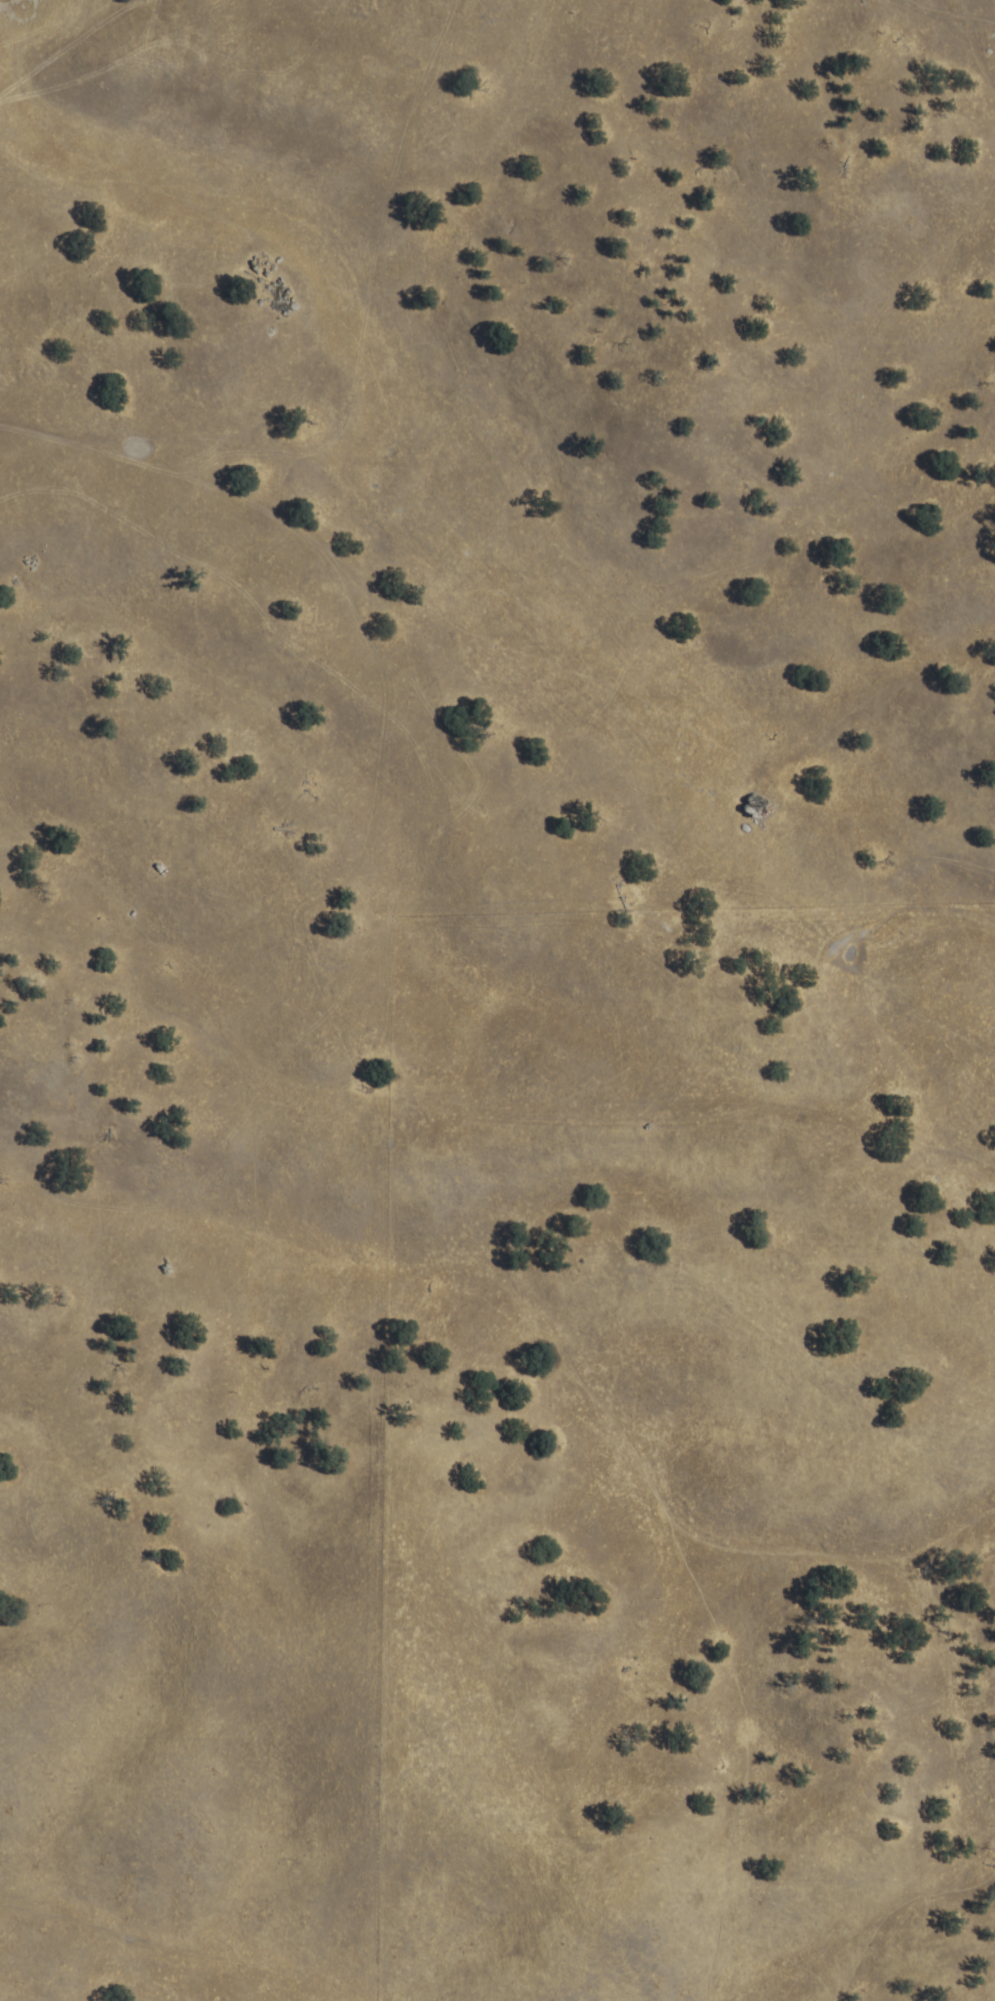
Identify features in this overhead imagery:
crop: (3, 4)
crop: (559, 636)

